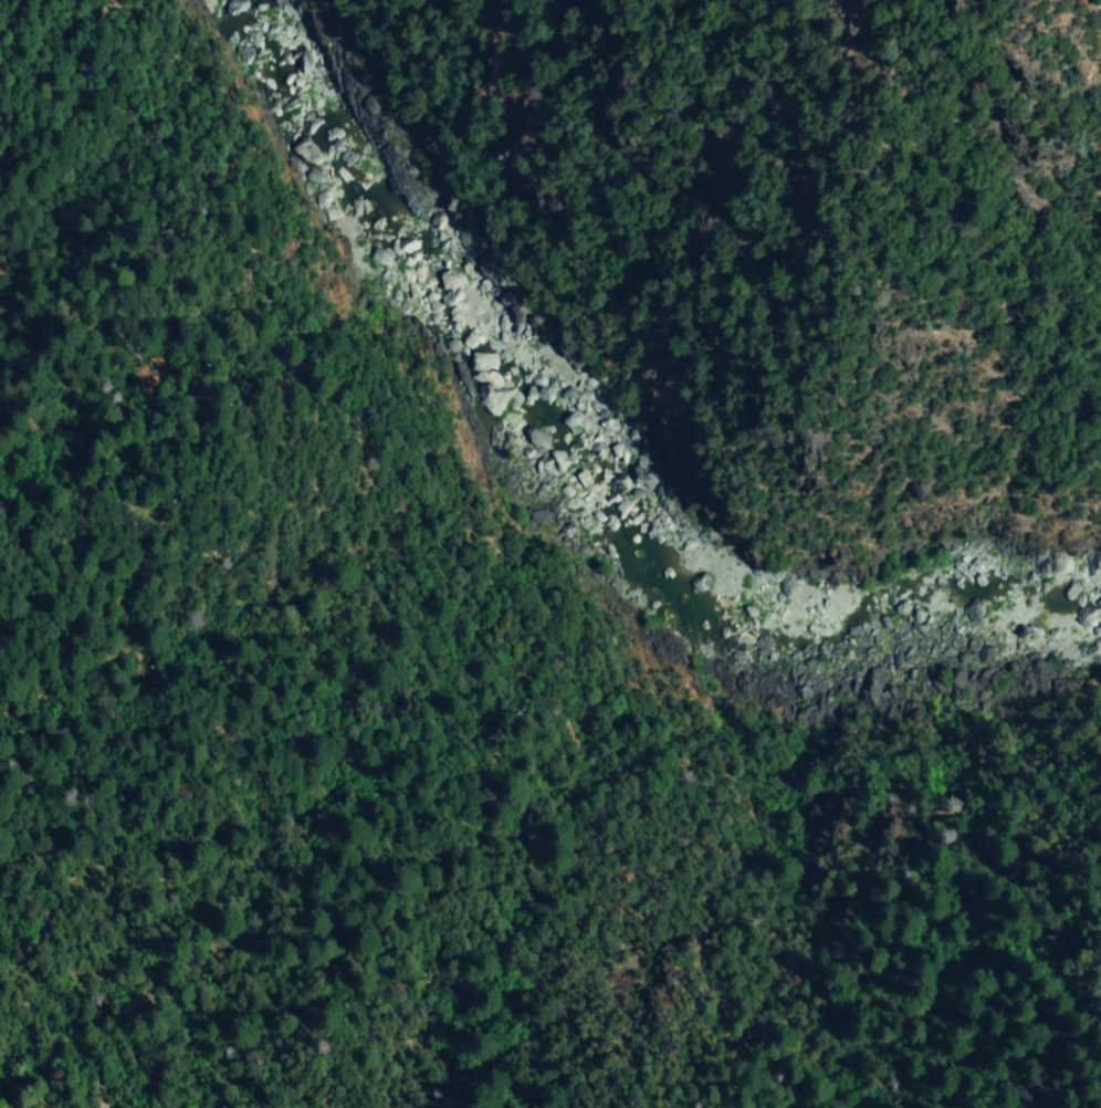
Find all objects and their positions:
river: (596, 460)

